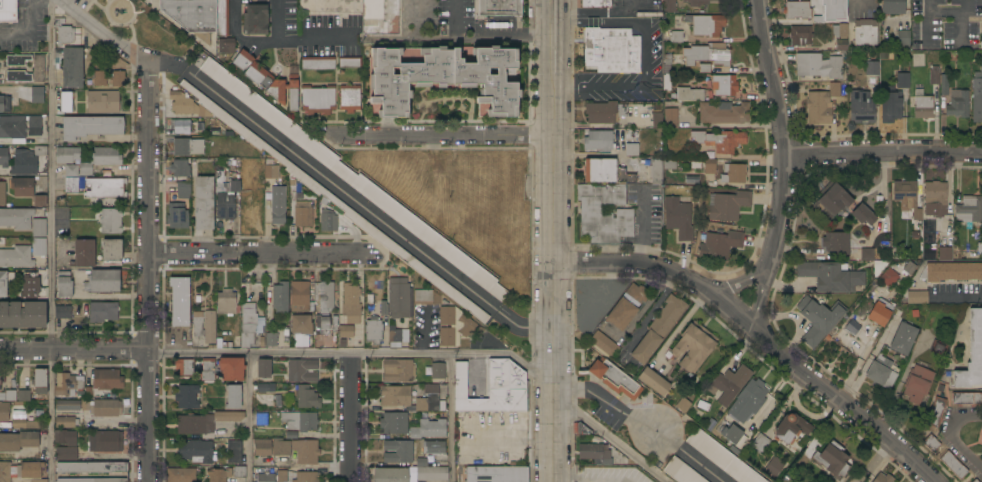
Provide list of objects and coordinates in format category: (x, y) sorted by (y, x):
building: (698, 2)
building: (596, 4)
road: (637, 4)
building: (669, 6)
building: (893, 7)
building: (500, 8)
building: (8, 10)
building: (797, 10)
road: (947, 12)
building: (649, 14)
building: (193, 16)
building: (222, 18)
building: (255, 20)
road: (278, 20)
building: (819, 20)
road: (928, 21)
building: (706, 25)
park: (139, 26)
parking lot: (475, 26)
road: (31, 31)
road: (102, 32)
building: (865, 32)
building: (64, 35)
road: (488, 35)
building: (840, 35)
building: (800, 36)
building: (676, 37)
building: (981, 37)
building: (904, 38)
road: (276, 39)
road: (554, 43)
building: (226, 45)
building: (612, 51)
road: (645, 54)
building: (706, 56)
building: (17, 60)
building: (242, 60)
building: (350, 62)
building: (318, 63)
building: (818, 65)
building: (38, 68)
building: (73, 68)
building: (704, 68)
building: (872, 68)
building: (667, 71)
building: (934, 75)
building: (18, 76)
building: (100, 78)
building: (118, 78)
building: (443, 80)
building: (903, 81)
building: (944, 84)
building: (274, 85)
building: (724, 85)
building: (31, 89)
building: (36, 94)
building: (689, 95)
building: (350, 98)
building: (977, 98)
building: (318, 100)
building: (66, 102)
building: (103, 102)
building: (4, 104)
building: (185, 104)
building: (958, 104)
building: (821, 105)
building: (891, 105)
building: (923, 105)
building: (861, 107)
building: (605, 112)
building: (724, 113)
building: (670, 118)
building: (657, 120)
building: (90, 127)
building: (19, 128)
building: (181, 128)
building: (213, 132)
road: (778, 132)
road: (446, 135)
building: (720, 140)
building: (598, 141)
building: (188, 147)
building: (632, 150)
building: (40, 151)
road: (882, 154)
building: (67, 155)
building: (4, 158)
building: (101, 160)
building: (24, 163)
building: (670, 164)
building: (696, 165)
building: (709, 166)
building: (180, 168)
building: (71, 171)
building: (657, 171)
building: (271, 172)
building: (606, 172)
building: (734, 173)
building: (354, 180)
building: (71, 185)
building: (22, 187)
building: (106, 188)
building: (183, 190)
building: (2, 193)
building: (905, 194)
road: (883, 196)
road: (349, 198)
building: (935, 198)
building: (226, 199)
building: (329, 199)
building: (833, 200)
building: (40, 201)
building: (204, 203)
road: (147, 204)
building: (278, 205)
building: (728, 206)
building: (969, 209)
building: (303, 214)
building: (604, 214)
building: (178, 215)
building: (863, 215)
building: (17, 218)
building: (678, 218)
building: (329, 220)
building: (111, 221)
building: (39, 228)
road: (51, 240)
railway: (424, 241)
building: (837, 243)
building: (720, 245)
building: (39, 247)
building: (112, 252)
road: (255, 252)
building: (945, 253)
building: (84, 254)
building: (867, 254)
building: (17, 257)
building: (879, 267)
building: (909, 268)
building: (951, 272)
building: (831, 277)
building: (889, 277)
building: (103, 281)
building: (4, 282)
road: (738, 282)
road: (554, 284)
building: (65, 285)
building: (31, 288)
building: (610, 290)
building: (300, 296)
building: (324, 296)
road: (760, 296)
building: (280, 297)
building: (423, 297)
building: (915, 297)
building: (398, 298)
road: (957, 298)
building: (180, 301)
building: (226, 302)
building: (351, 303)
building: (627, 306)
building: (384, 309)
building: (63, 312)
building: (103, 312)
building: (879, 314)
building: (23, 315)
building: (819, 319)
building: (249, 324)
building: (301, 324)
building: (325, 324)
building: (205, 326)
building: (455, 326)
building: (659, 329)
building: (374, 330)
building: (346, 332)
road: (760, 335)
building: (397, 337)
building: (271, 339)
building: (903, 339)
building: (262, 343)
building: (343, 343)
building: (604, 344)
building: (694, 346)
road: (73, 348)
building: (938, 348)
road: (352, 353)
building: (972, 354)
building: (184, 367)
building: (264, 368)
building: (232, 369)
building: (208, 370)
building: (302, 370)
building: (398, 371)
building: (438, 371)
building: (881, 373)
building: (614, 379)
building: (40, 381)
building: (654, 381)
building: (68, 384)
building: (729, 384)
building: (917, 384)
building: (494, 388)
building: (266, 389)
building: (89, 394)
building: (23, 395)
building: (10, 396)
building: (187, 397)
building: (233, 397)
building: (307, 398)
building: (408, 399)
building: (966, 399)
building: (748, 401)
building: (68, 406)
building: (4, 412)
building: (936, 412)
road: (147, 415)
road: (250, 417)
road: (349, 417)
road: (451, 418)
building: (261, 419)
building: (300, 421)
building: (66, 422)
building: (206, 422)
building: (394, 423)
building: (24, 424)
road: (641, 424)
building: (791, 428)
building: (429, 429)
building: (580, 429)
building: (732, 434)
road: (952, 437)
building: (65, 438)
building: (19, 440)
road: (613, 440)
building: (106, 441)
building: (931, 443)
building: (759, 444)
building: (281, 447)
building: (434, 447)
building: (262, 448)
building: (306, 451)
building: (196, 452)
building: (234, 452)
building: (398, 452)
building: (595, 453)
building: (66, 454)
building: (722, 457)
building: (833, 459)
building: (422, 463)
building: (953, 465)
building: (91, 467)
building: (774, 467)
building: (29, 470)
building: (681, 471)
building: (5, 472)
building: (239, 472)
building: (219, 474)
building: (432, 474)
building: (497, 474)
building: (181, 475)
building: (390, 475)
building: (281, 476)
building: (266, 477)
building: (307, 477)
building: (883, 478)
building: (92, 480)
building: (38, 481)
building: (974, 481)

